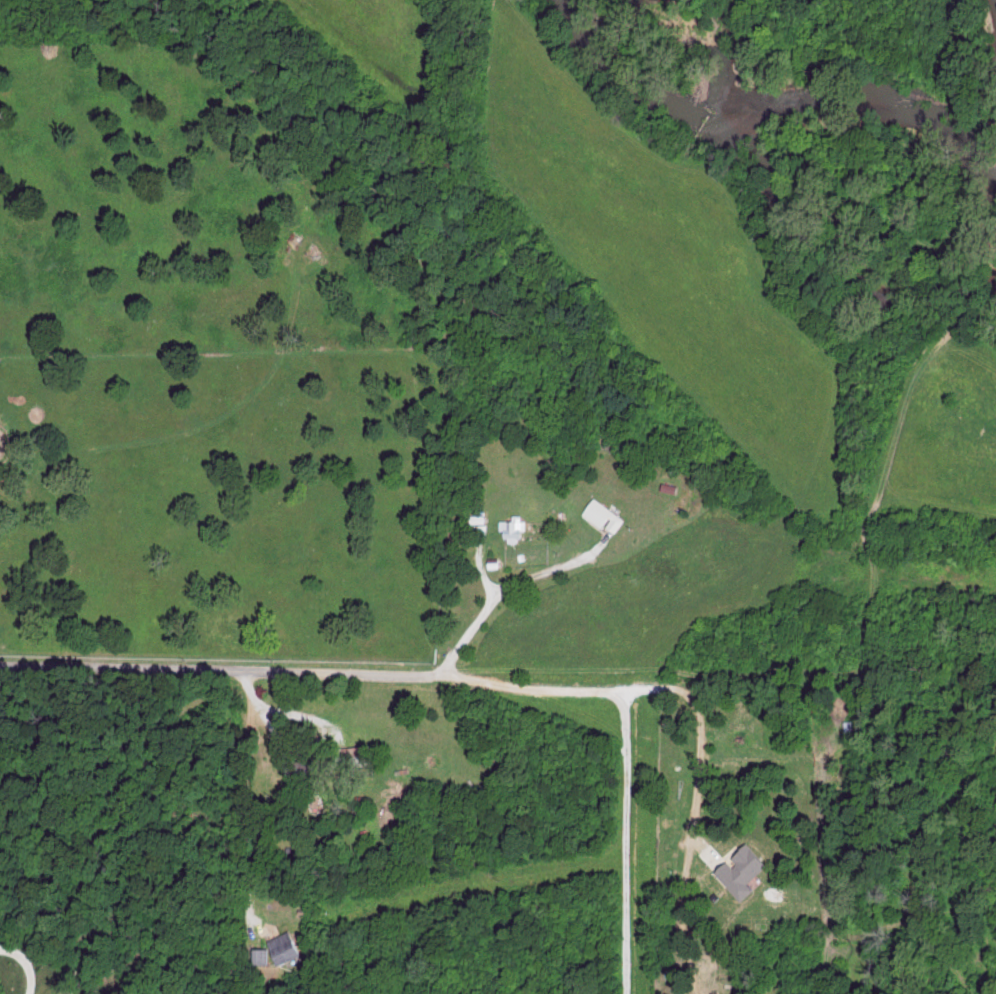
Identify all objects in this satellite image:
building: (672, 486)
building: (606, 514)
building: (515, 527)
road: (561, 573)
road: (274, 672)
road: (700, 715)
building: (307, 768)
road: (251, 785)
road: (625, 841)
building: (745, 869)
building: (290, 945)
building: (264, 954)
road: (25, 966)

